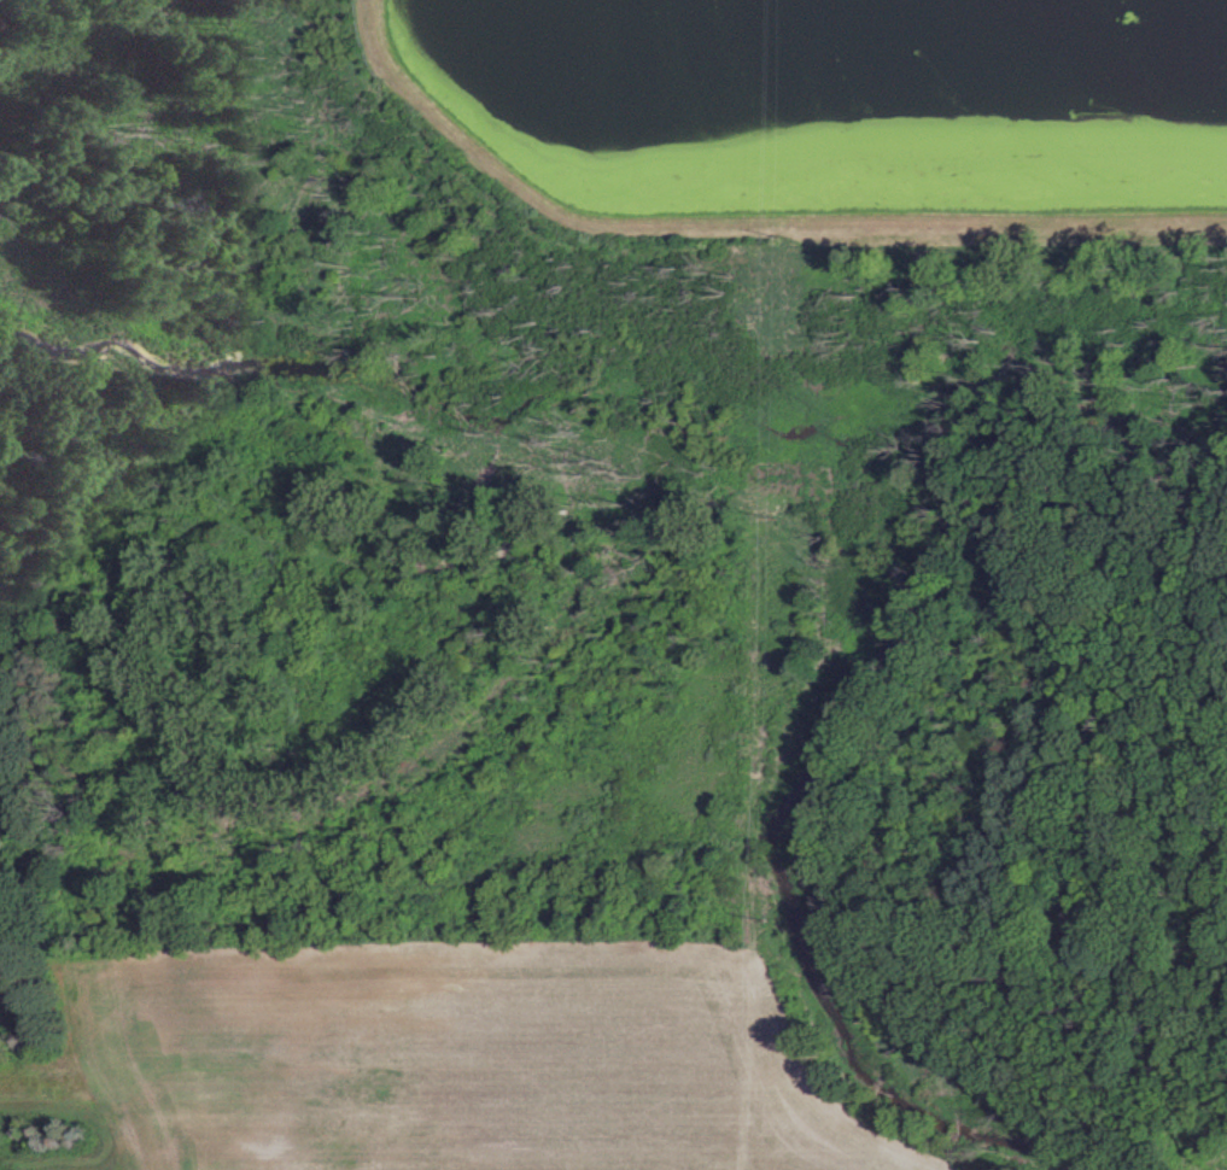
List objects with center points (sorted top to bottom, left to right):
wastewater plant: (825, 118)
road: (741, 222)

